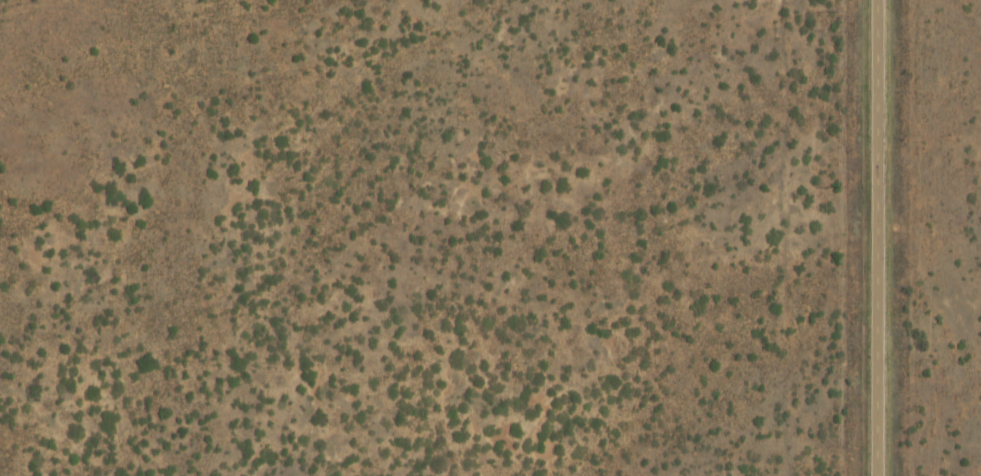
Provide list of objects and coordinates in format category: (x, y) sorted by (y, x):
road: (888, 238)

